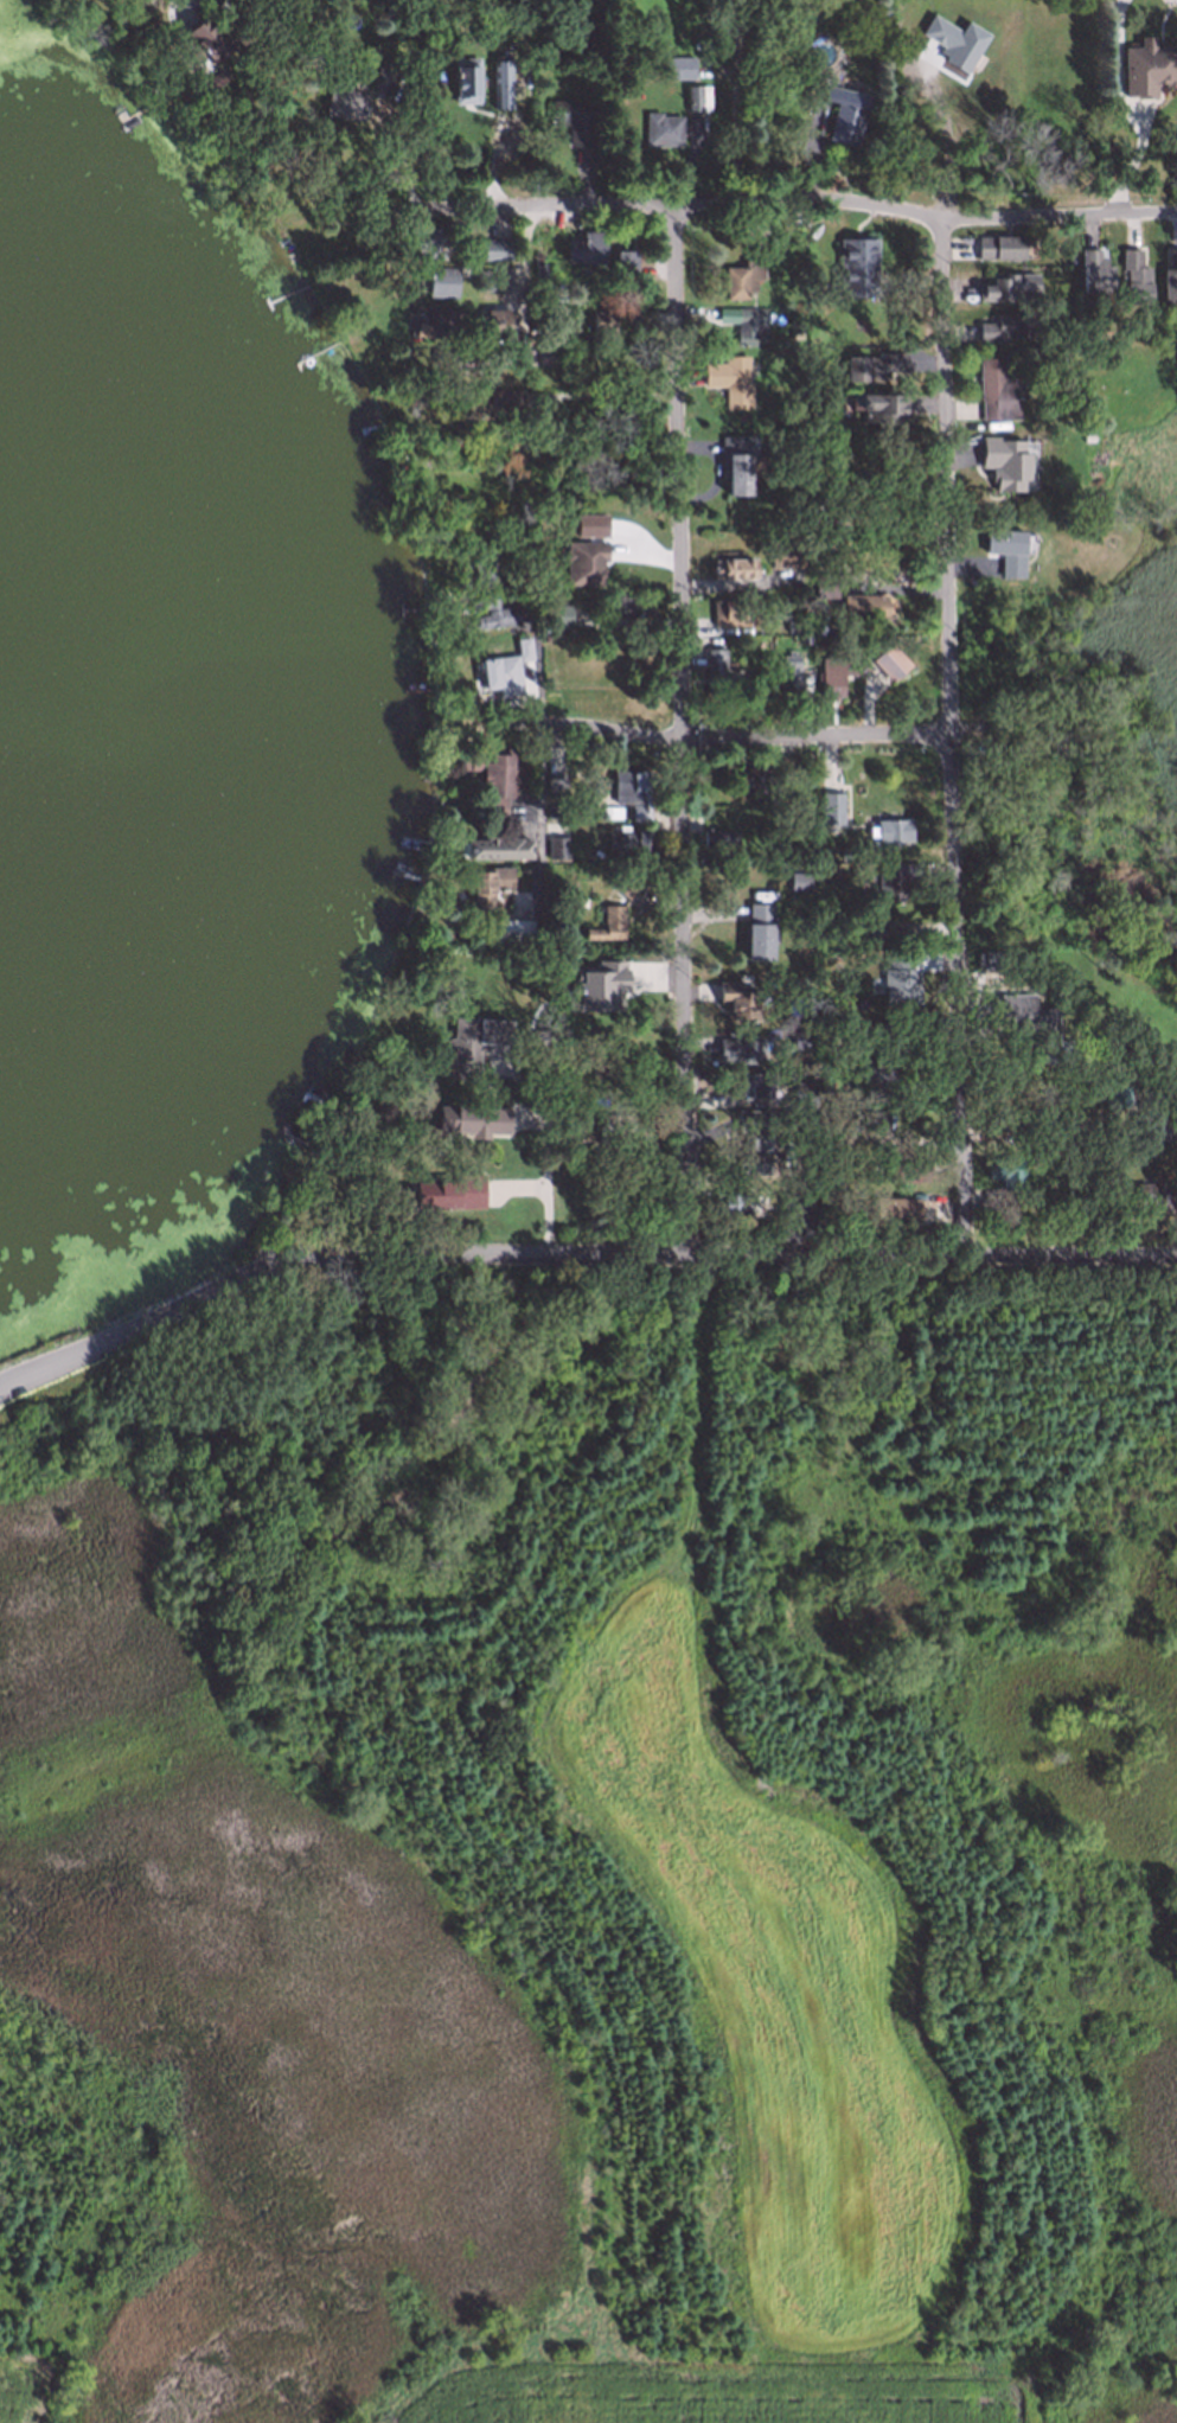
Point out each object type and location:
building: (183, 13)
building: (205, 39)
building: (955, 41)
building: (677, 64)
building: (1146, 65)
building: (378, 75)
building: (465, 79)
building: (498, 81)
building: (696, 95)
building: (1075, 95)
building: (343, 100)
building: (1077, 103)
road: (731, 109)
building: (843, 111)
building: (574, 117)
building: (660, 127)
road: (1134, 161)
road: (798, 205)
building: (538, 236)
building: (426, 237)
building: (588, 242)
building: (998, 245)
building: (493, 247)
building: (626, 262)
building: (856, 266)
building: (1169, 271)
building: (1095, 276)
building: (1132, 276)
building: (741, 277)
building: (484, 279)
building: (441, 280)
building: (1008, 288)
building: (742, 319)
building: (610, 320)
building: (446, 321)
building: (495, 321)
building: (1006, 325)
building: (794, 333)
building: (537, 338)
building: (543, 352)
building: (454, 358)
building: (876, 366)
building: (729, 379)
building: (992, 388)
building: (1079, 392)
road: (608, 395)
building: (486, 402)
building: (883, 409)
building: (1086, 435)
building: (736, 461)
building: (1006, 463)
building: (514, 516)
building: (596, 522)
building: (1005, 549)
building: (787, 555)
building: (584, 560)
building: (482, 565)
building: (735, 565)
building: (824, 583)
building: (627, 603)
building: (861, 605)
building: (491, 610)
building: (735, 610)
building: (557, 614)
building: (794, 625)
building: (820, 629)
building: (888, 661)
building: (504, 666)
building: (714, 669)
building: (834, 672)
building: (787, 675)
building: (462, 699)
road: (682, 729)
road: (711, 734)
road: (957, 736)
building: (794, 762)
building: (486, 774)
building: (748, 776)
building: (555, 780)
building: (632, 789)
road: (542, 804)
building: (831, 805)
building: (609, 810)
building: (888, 832)
building: (626, 837)
building: (717, 839)
building: (556, 846)
building: (494, 848)
building: (843, 852)
building: (894, 877)
building: (797, 878)
building: (486, 884)
building: (623, 884)
building: (607, 923)
building: (866, 927)
building: (512, 928)
building: (759, 929)
building: (986, 959)
building: (903, 982)
building: (600, 987)
building: (736, 999)
building: (1028, 1025)
building: (800, 1037)
building: (469, 1041)
building: (904, 1041)
building: (533, 1044)
building: (737, 1048)
building: (872, 1069)
building: (748, 1083)
building: (802, 1093)
building: (471, 1113)
building: (1017, 1119)
building: (612, 1124)
building: (1054, 1125)
building: (1157, 1125)
building: (833, 1132)
building: (1163, 1138)
building: (1101, 1139)
building: (749, 1152)
road: (546, 1153)
building: (1106, 1157)
building: (906, 1168)
building: (994, 1171)
building: (448, 1191)
building: (1153, 1196)
building: (795, 1200)
building: (734, 1203)
building: (895, 1208)
road: (712, 1254)
road: (127, 1335)

